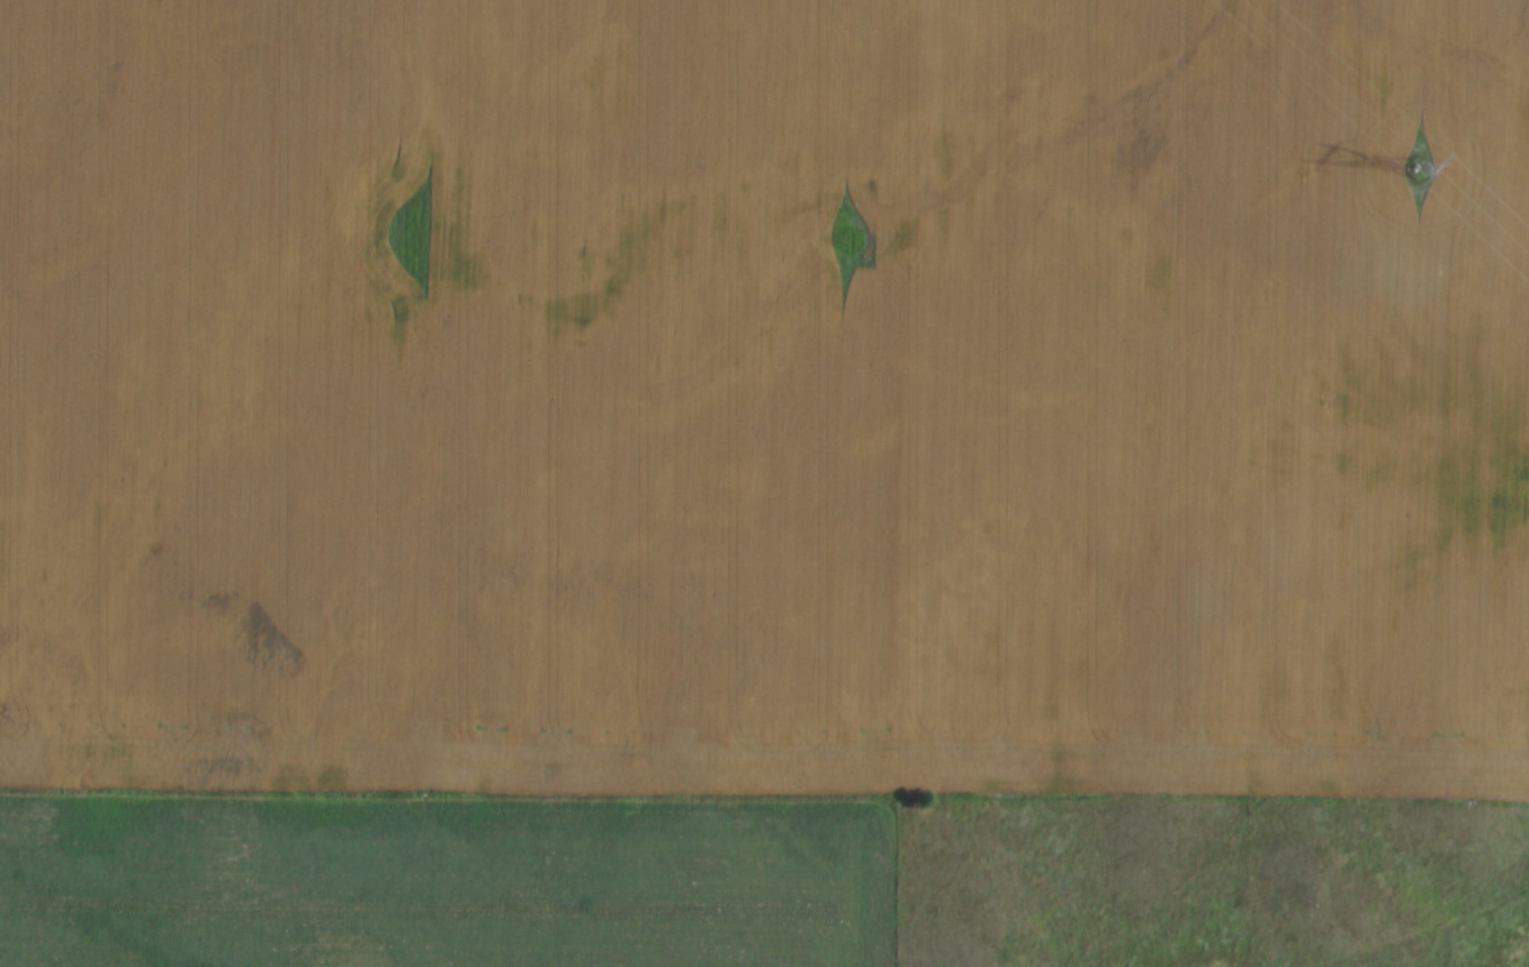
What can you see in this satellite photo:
power tower: (1415, 171)
road: (897, 483)
building: (233, 953)
building: (334, 956)
building: (61, 962)
building: (480, 964)
building: (6, 966)

